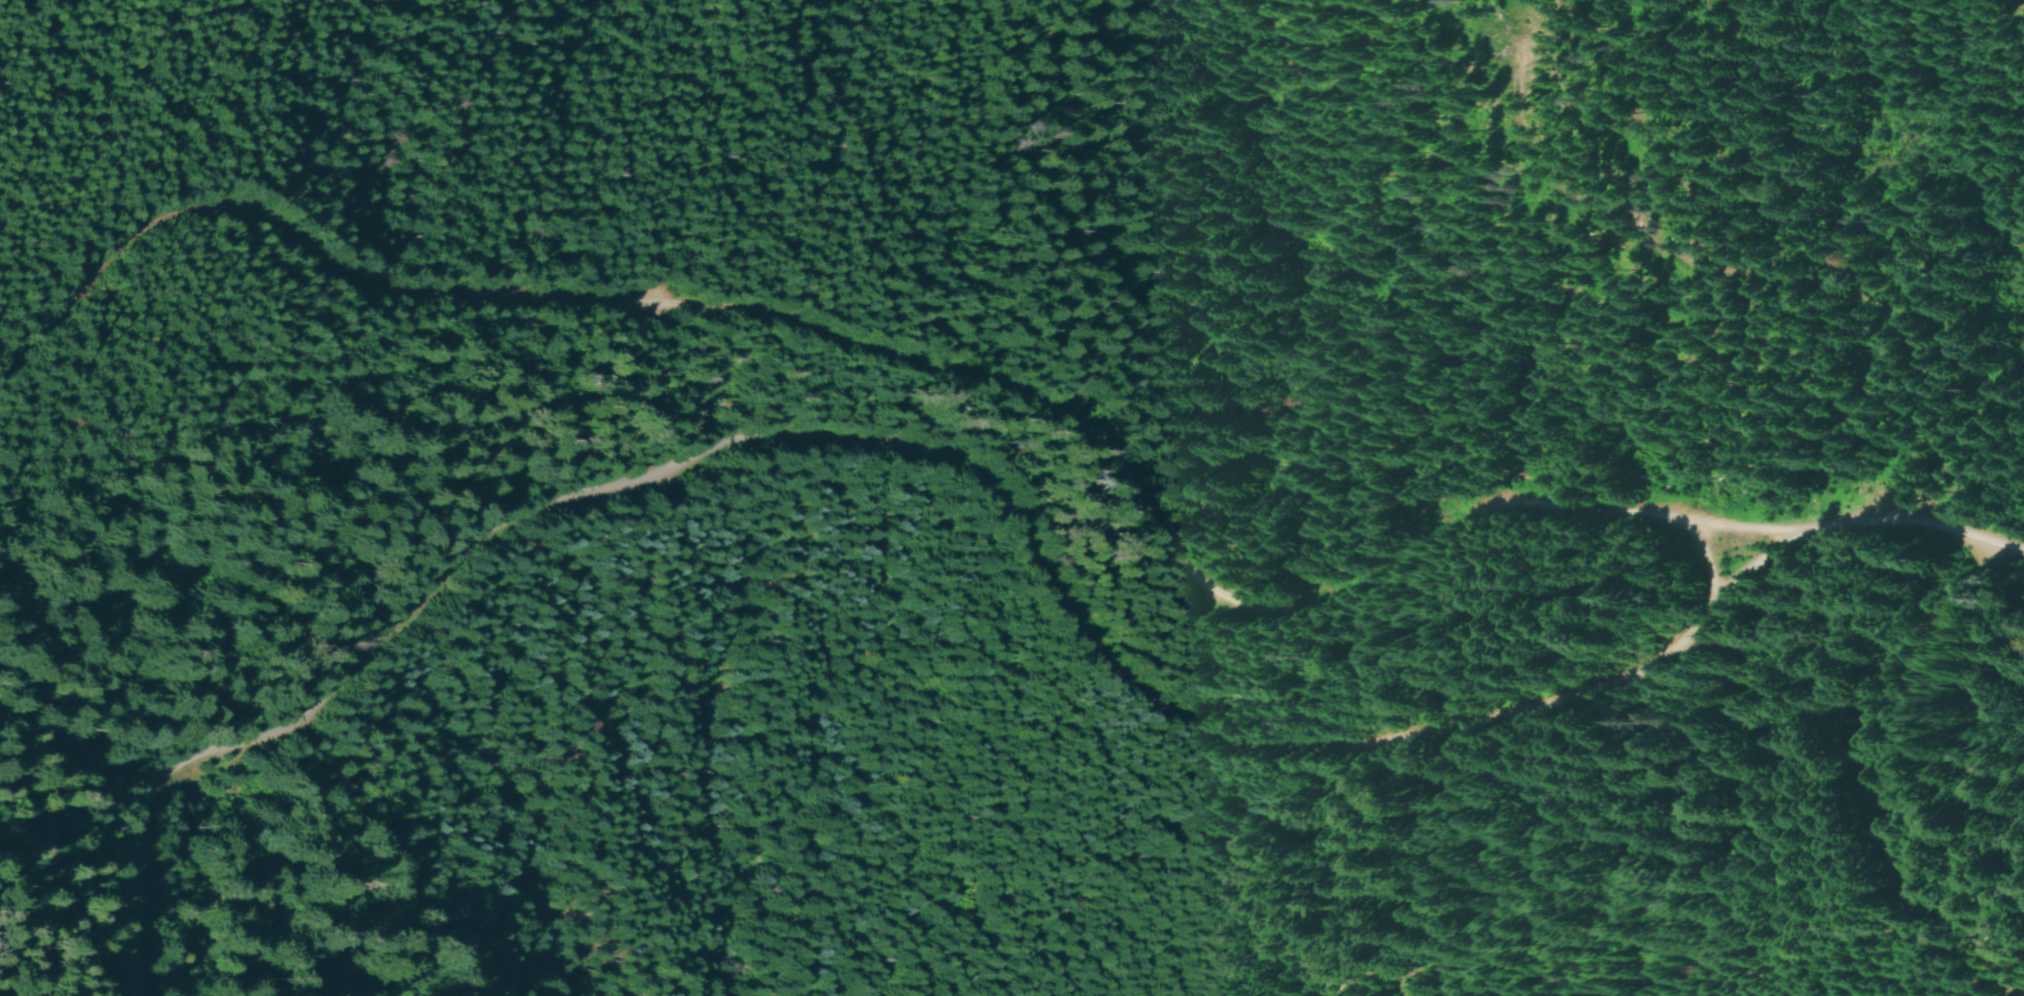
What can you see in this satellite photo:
parking lot: (641, 304)
road: (1107, 323)
road: (917, 368)
road: (1000, 511)
road: (1705, 572)
road: (1879, 781)

